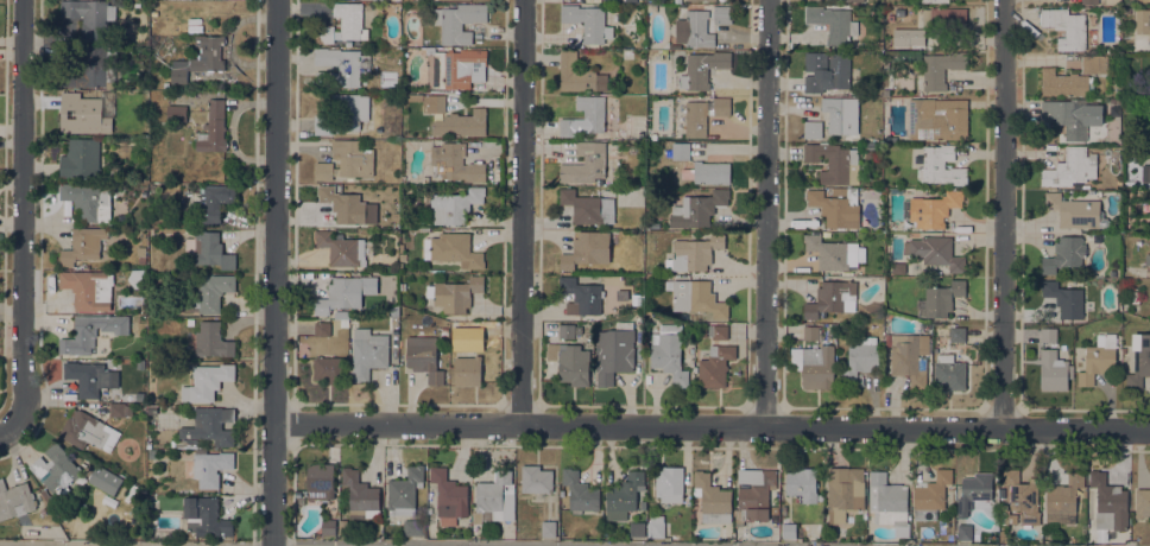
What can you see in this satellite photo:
building: (701, 0)
building: (854, 0)
building: (934, 1)
building: (1089, 1)
building: (722, 14)
building: (90, 15)
building: (944, 18)
building: (1142, 20)
building: (459, 21)
building: (586, 21)
building: (343, 24)
building: (833, 24)
building: (1066, 27)
building: (694, 30)
building: (916, 37)
building: (209, 52)
building: (1094, 64)
building: (340, 66)
building: (457, 66)
building: (94, 68)
building: (941, 68)
building: (702, 69)
building: (826, 70)
building: (178, 71)
building: (579, 75)
building: (1063, 83)
building: (434, 103)
building: (592, 112)
building: (176, 113)
building: (343, 113)
building: (82, 114)
building: (703, 114)
building: (1072, 115)
building: (832, 119)
building: (939, 119)
building: (461, 123)
building: (214, 127)
building: (567, 127)
building: (1149, 128)
building: (681, 151)
building: (81, 158)
building: (346, 160)
building: (832, 160)
building: (454, 163)
building: (586, 163)
building: (942, 165)
building: (1070, 167)
building: (707, 172)
building: (1145, 172)
building: (87, 201)
building: (213, 202)
building: (455, 204)
building: (348, 205)
building: (588, 207)
building: (836, 207)
building: (697, 209)
building: (931, 209)
road: (21, 211)
building: (1073, 211)
road: (523, 212)
road: (769, 214)
road: (1004, 214)
building: (655, 226)
building: (826, 235)
road: (39, 240)
building: (83, 245)
building: (341, 248)
building: (208, 249)
building: (453, 249)
building: (587, 249)
building: (694, 252)
building: (935, 252)
building: (835, 253)
building: (140, 254)
building: (1064, 254)
building: (1148, 260)
building: (1149, 264)
building: (898, 267)
road: (254, 273)
road: (273, 273)
building: (1112, 273)
building: (137, 278)
building: (88, 288)
building: (209, 291)
building: (455, 293)
building: (341, 294)
building: (1133, 294)
building: (581, 296)
building: (696, 297)
building: (832, 298)
building: (942, 298)
building: (1063, 298)
building: (393, 311)
building: (647, 311)
building: (190, 322)
building: (343, 323)
building: (454, 324)
building: (624, 324)
building: (322, 328)
building: (475, 330)
building: (565, 330)
building: (702, 330)
building: (90, 331)
building: (443, 331)
building: (718, 331)
building: (810, 332)
building: (956, 334)
building: (1048, 335)
building: (211, 339)
building: (368, 353)
building: (669, 353)
building: (422, 354)
building: (613, 354)
building: (909, 357)
building: (1098, 357)
building: (860, 358)
building: (1139, 360)
building: (573, 363)
building: (815, 364)
building: (715, 366)
building: (1054, 368)
building: (329, 369)
building: (467, 370)
building: (949, 372)
building: (90, 377)
building: (206, 381)
building: (140, 396)
building: (151, 407)
building: (120, 408)
building: (210, 425)
road: (7, 426)
road: (710, 426)
building: (88, 431)
building: (153, 453)
building: (207, 466)
building: (56, 470)
building: (536, 478)
building: (105, 480)
building: (320, 481)
building: (669, 483)
building: (802, 483)
building: (404, 490)
building: (580, 490)
building: (843, 491)
building: (756, 493)
building: (974, 493)
building: (492, 494)
building: (46, 495)
building: (361, 495)
building: (624, 495)
building: (930, 495)
building: (449, 496)
building: (1023, 496)
building: (712, 499)
building: (14, 500)
building: (1063, 500)
building: (887, 501)
building: (1110, 501)
building: (1142, 502)
building: (772, 509)
building: (57, 512)
building: (1004, 515)
building: (206, 516)
building: (328, 526)
building: (342, 526)
building: (656, 526)
building: (415, 527)
building: (548, 528)
building: (637, 529)
building: (789, 529)
building: (965, 531)
building: (675, 538)
road: (349, 545)

